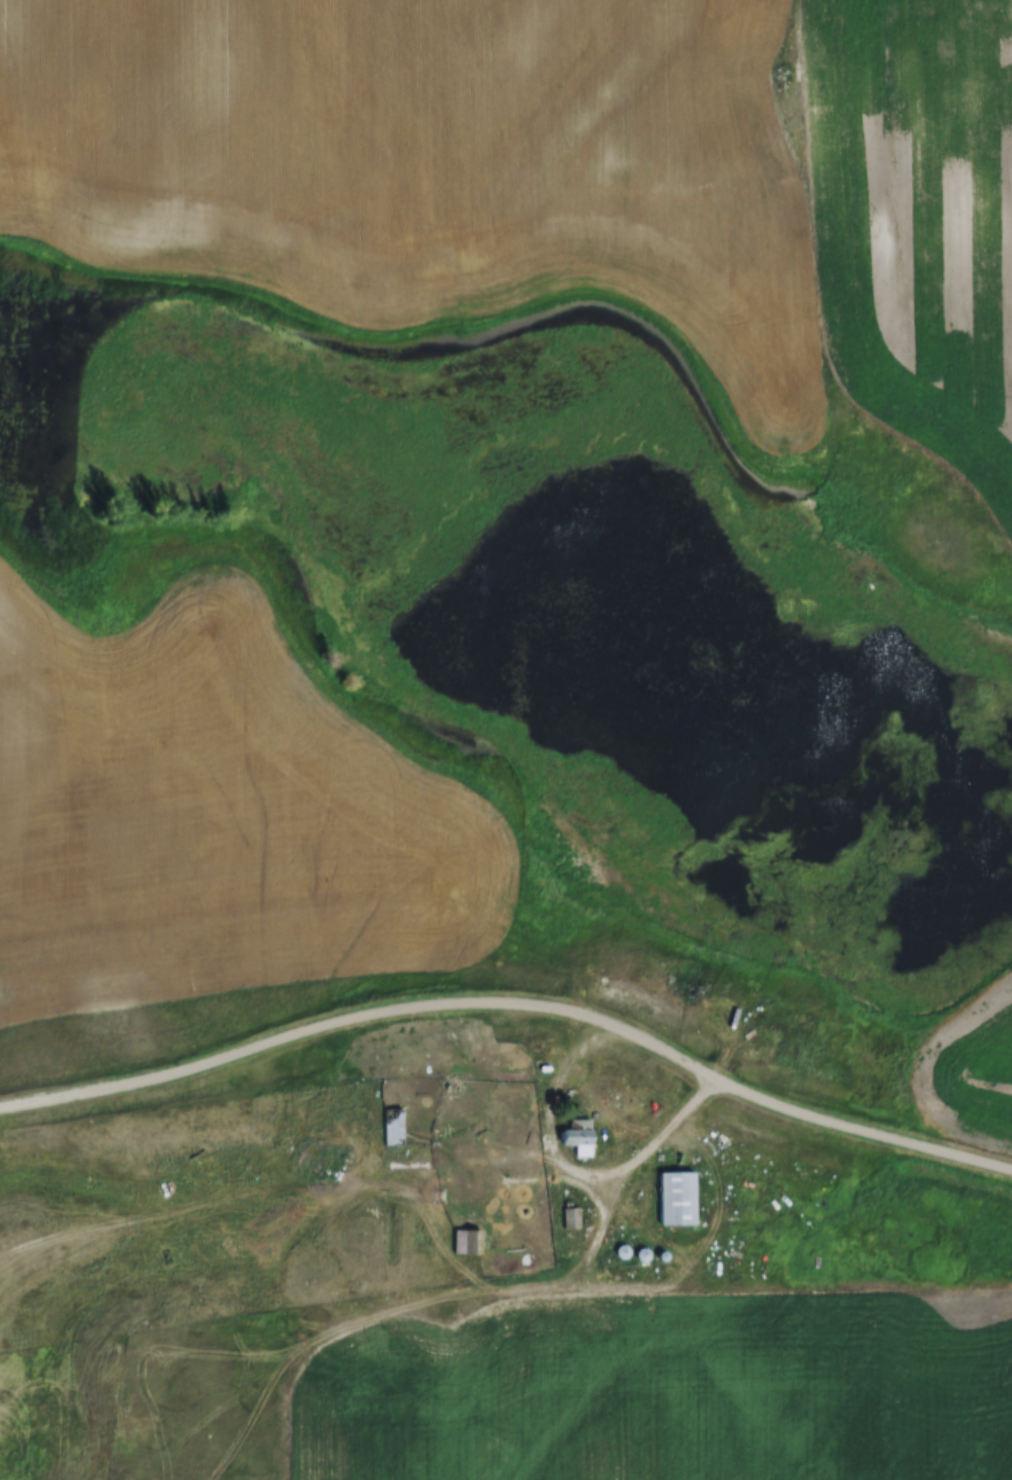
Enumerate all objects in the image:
road: (516, 999)
building: (579, 1138)
building: (404, 1151)
road: (628, 1160)
road: (247, 1193)
building: (677, 1200)
building: (571, 1219)
building: (464, 1242)
road: (419, 1299)

